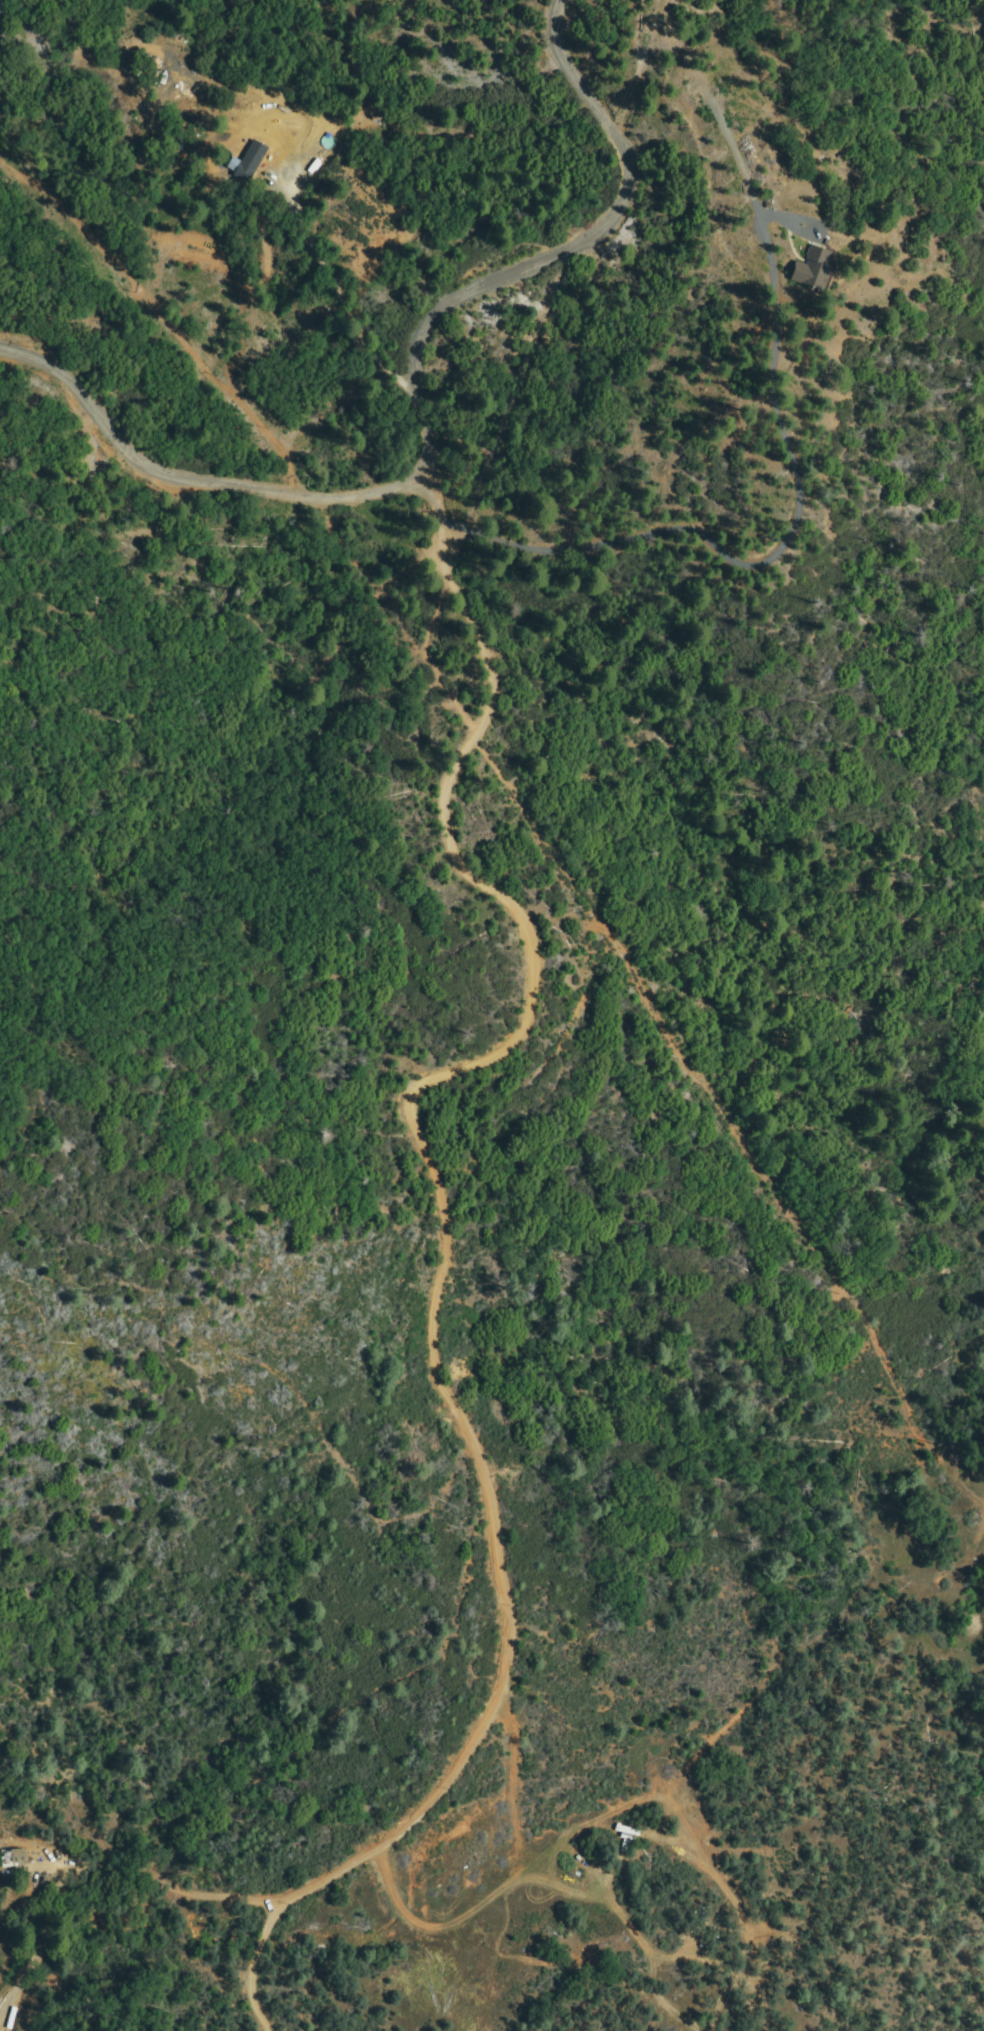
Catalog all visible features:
building: (244, 173)
road: (552, 252)
building: (812, 268)
road: (185, 475)
road: (447, 1248)
building: (12, 1858)

